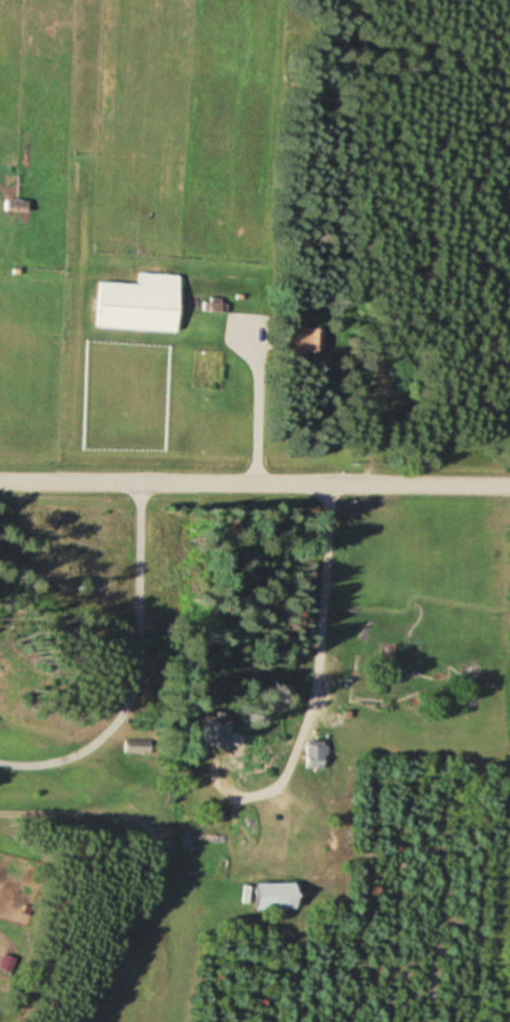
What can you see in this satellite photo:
building: (141, 304)
road: (260, 415)
road: (255, 483)
road: (318, 662)
road: (134, 668)
building: (218, 731)
building: (317, 754)
road: (82, 813)
building: (278, 895)

